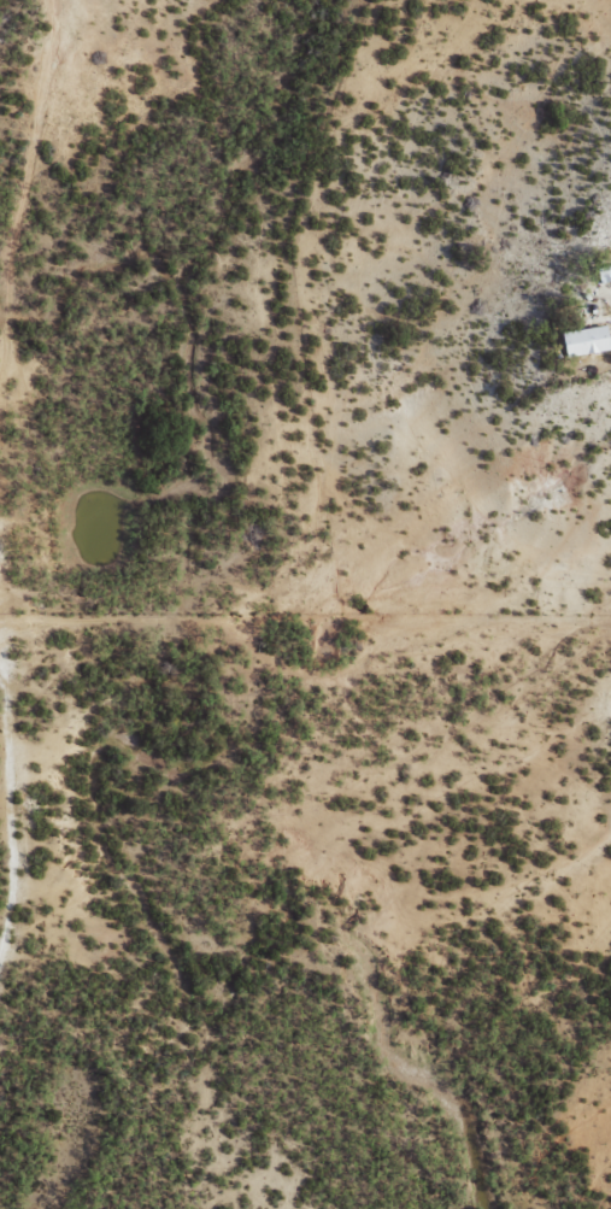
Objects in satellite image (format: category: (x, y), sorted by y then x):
building: (584, 341)

